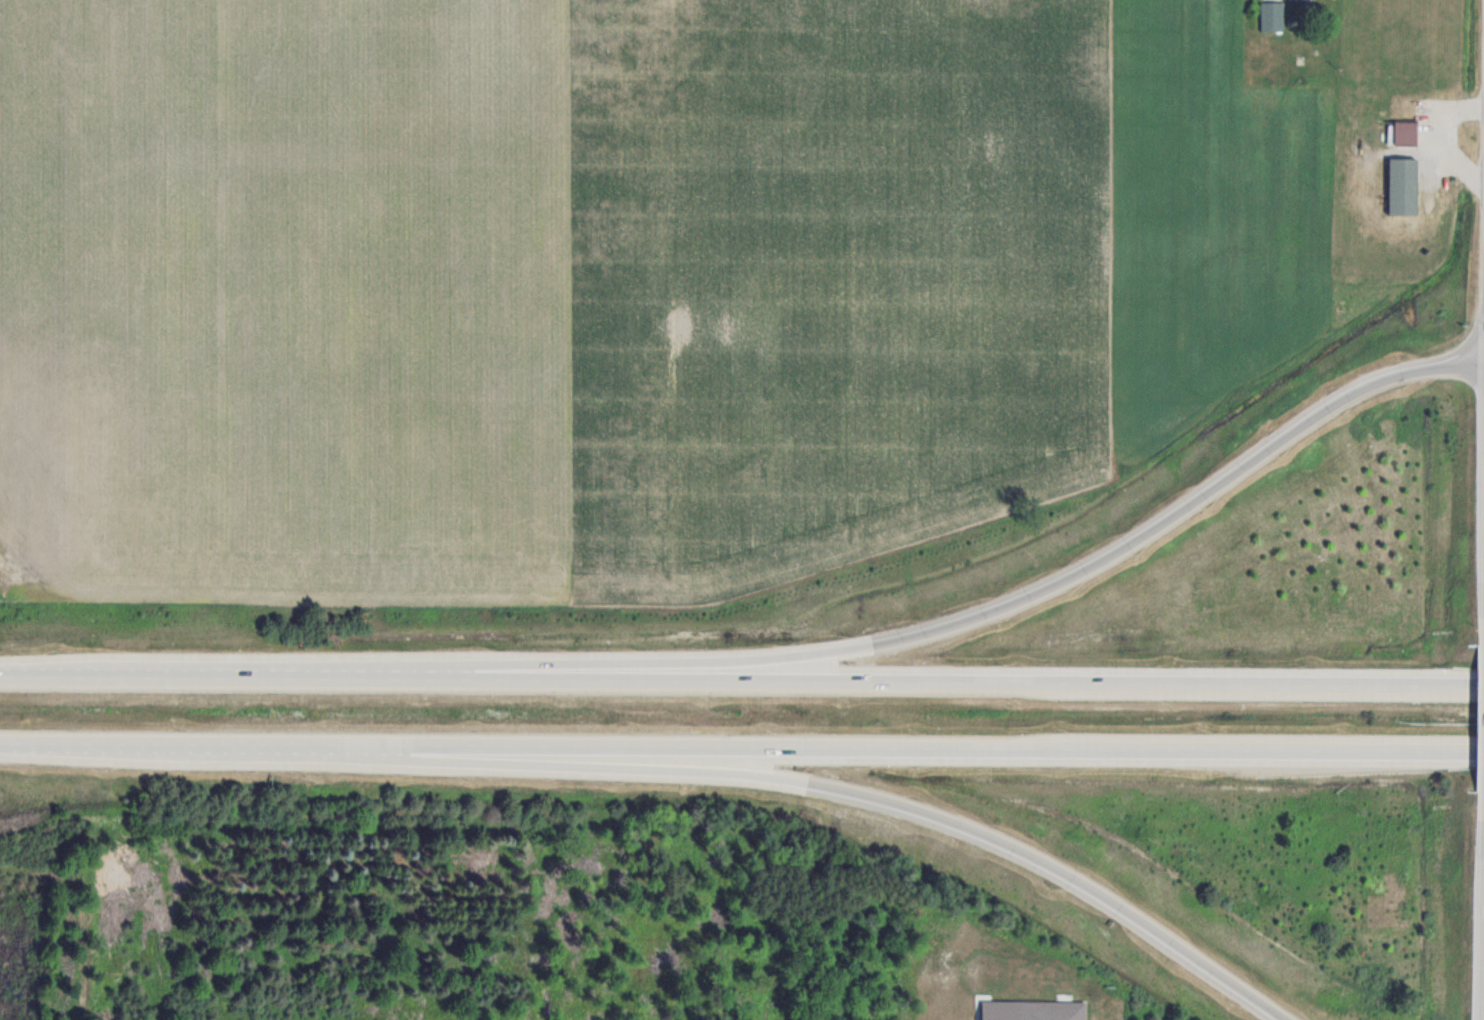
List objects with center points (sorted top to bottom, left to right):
building: (1271, 16)
building: (1404, 133)
building: (1401, 186)
road: (1033, 594)
road: (742, 679)
road: (742, 746)
road: (886, 801)

